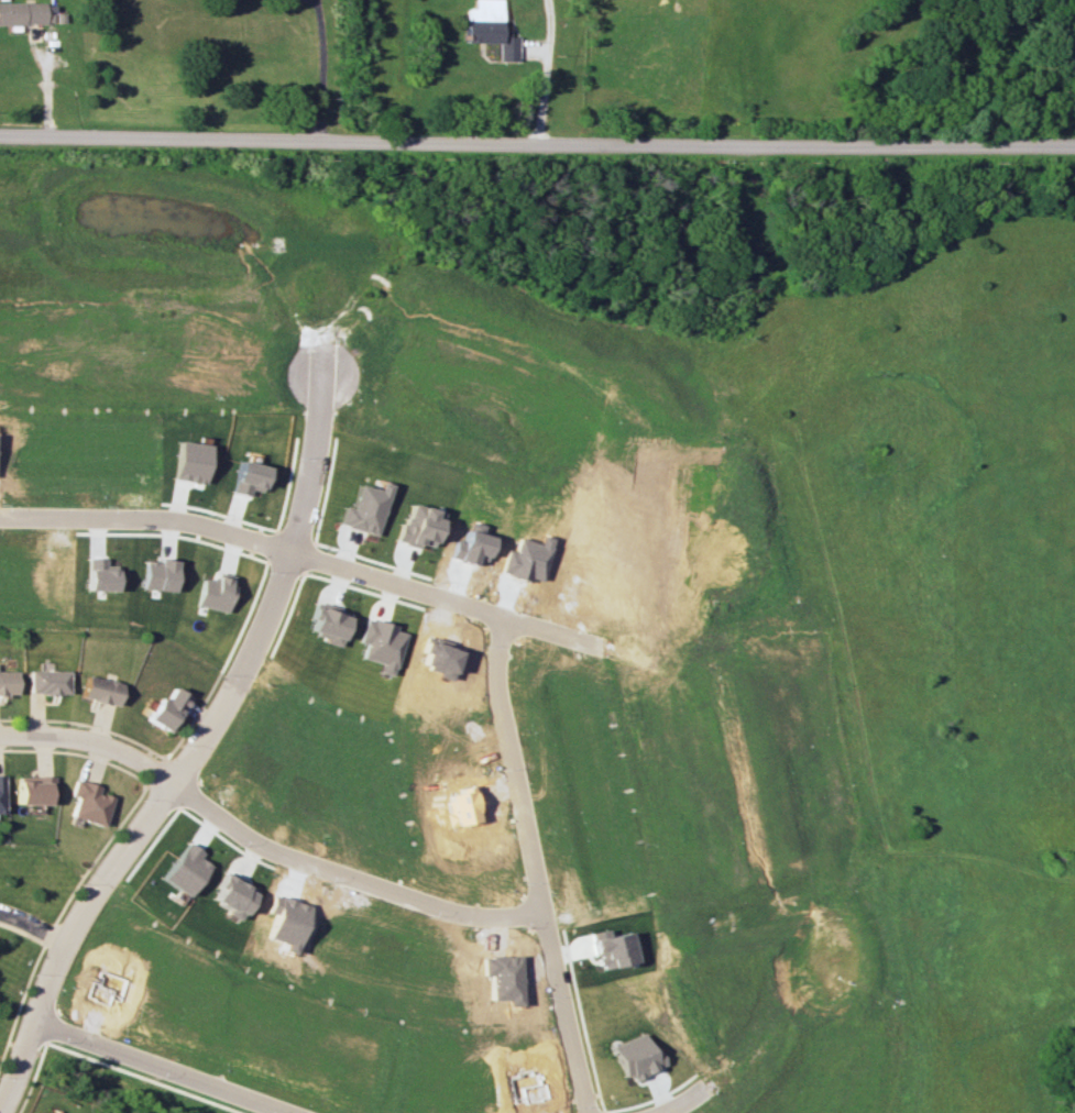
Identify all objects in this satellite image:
road: (311, 2)
road: (315, 2)
building: (21, 13)
building: (487, 27)
road: (320, 70)
road: (547, 70)
road: (537, 140)
building: (189, 462)
road: (306, 465)
building: (248, 477)
building: (364, 509)
road: (149, 519)
building: (418, 526)
building: (99, 574)
building: (158, 574)
building: (216, 592)
building: (329, 622)
road: (551, 635)
building: (382, 643)
building: (48, 681)
building: (8, 682)
road: (495, 685)
building: (102, 690)
building: (168, 709)
road: (88, 747)
building: (32, 789)
building: (0, 793)
building: (88, 802)
road: (345, 880)
road: (98, 892)
park: (32, 903)
road: (33, 926)
building: (636, 1057)
road: (156, 1068)

